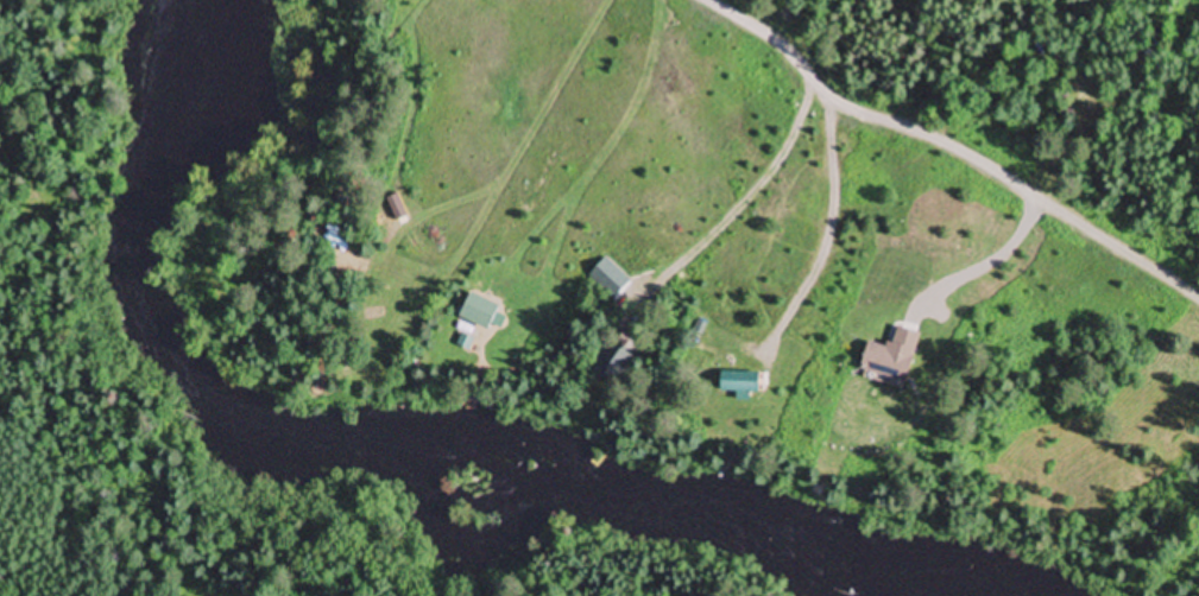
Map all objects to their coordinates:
road: (954, 141)
building: (337, 239)
building: (478, 312)
building: (890, 361)
building: (739, 383)
river: (376, 451)

